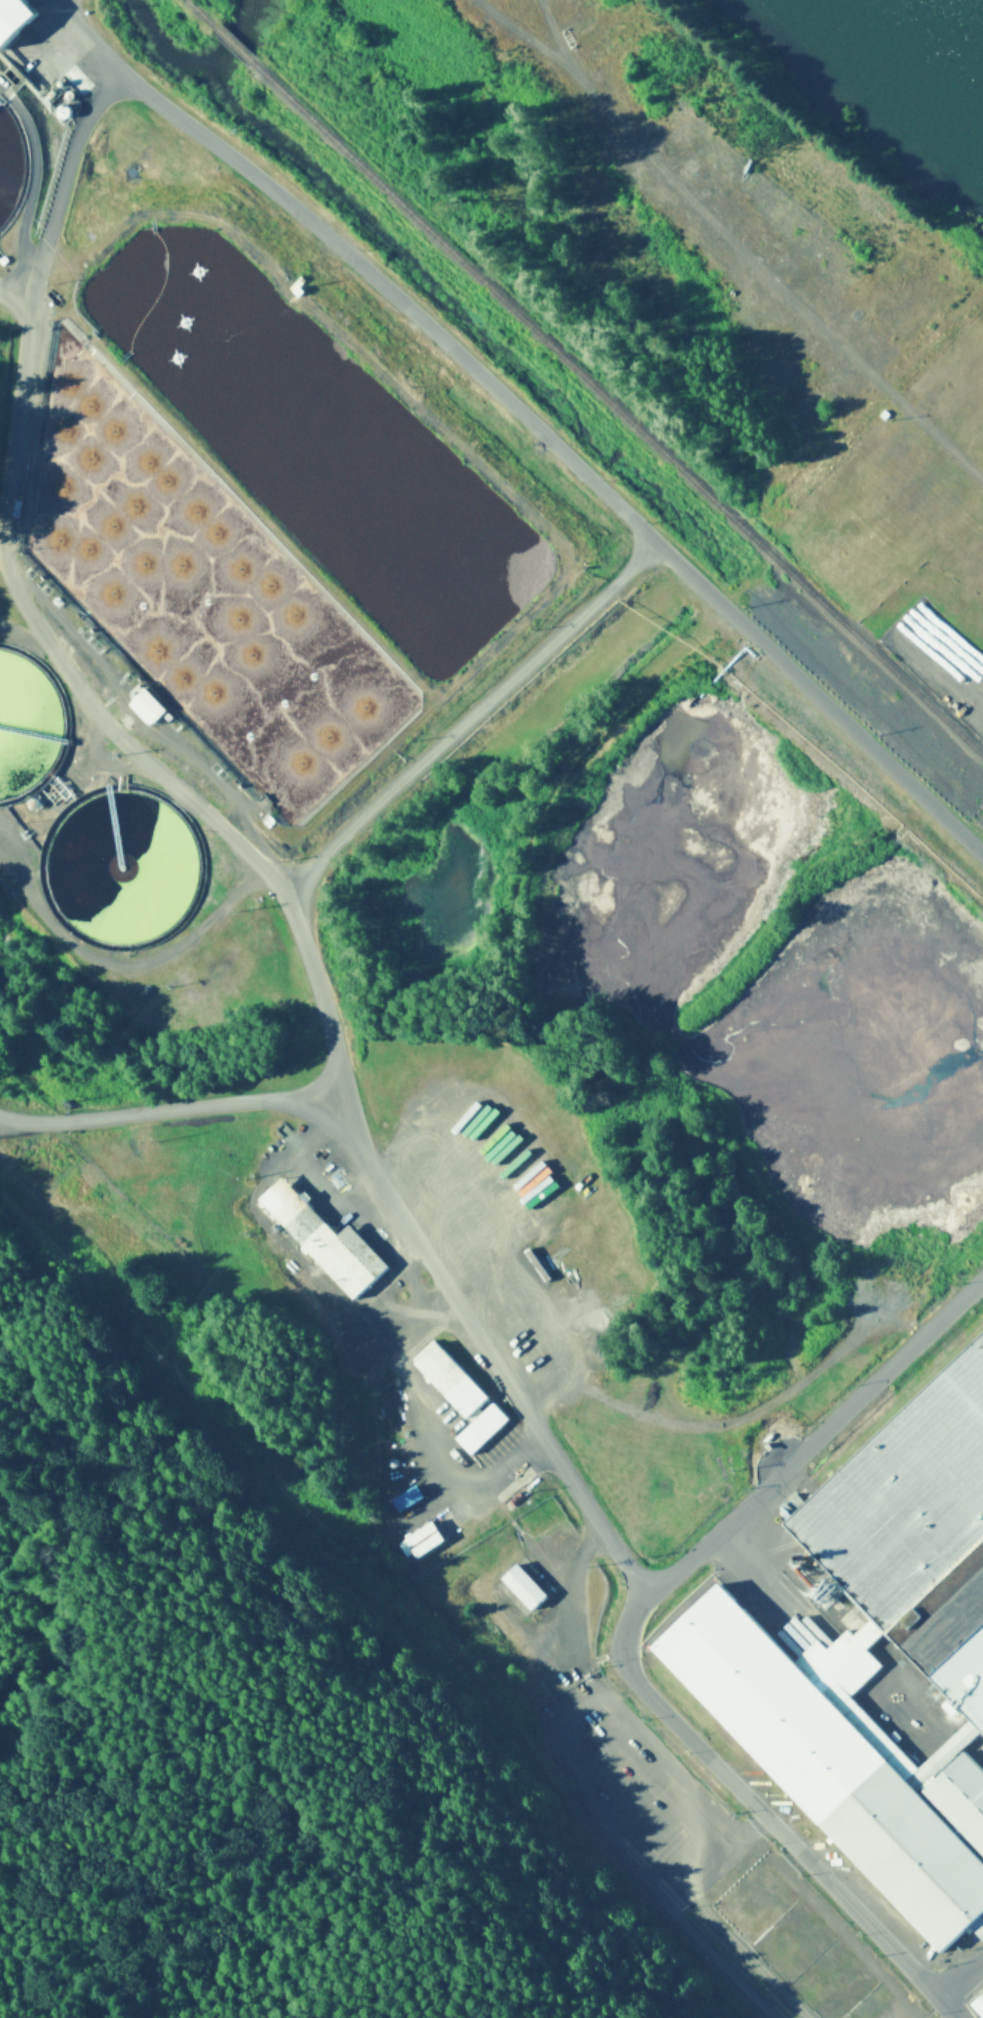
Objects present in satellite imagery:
railway: (198, 15)
building: (17, 21)
railway: (232, 47)
building: (806, 405)
railway: (615, 414)
building: (151, 707)
building: (13, 781)
building: (131, 803)
building: (329, 1245)
building: (582, 1332)
building: (974, 1366)
building: (463, 1398)
building: (849, 1512)
building: (425, 1542)
building: (523, 1589)
road: (615, 1637)
building: (845, 1761)
road: (960, 1986)
building: (978, 2007)

